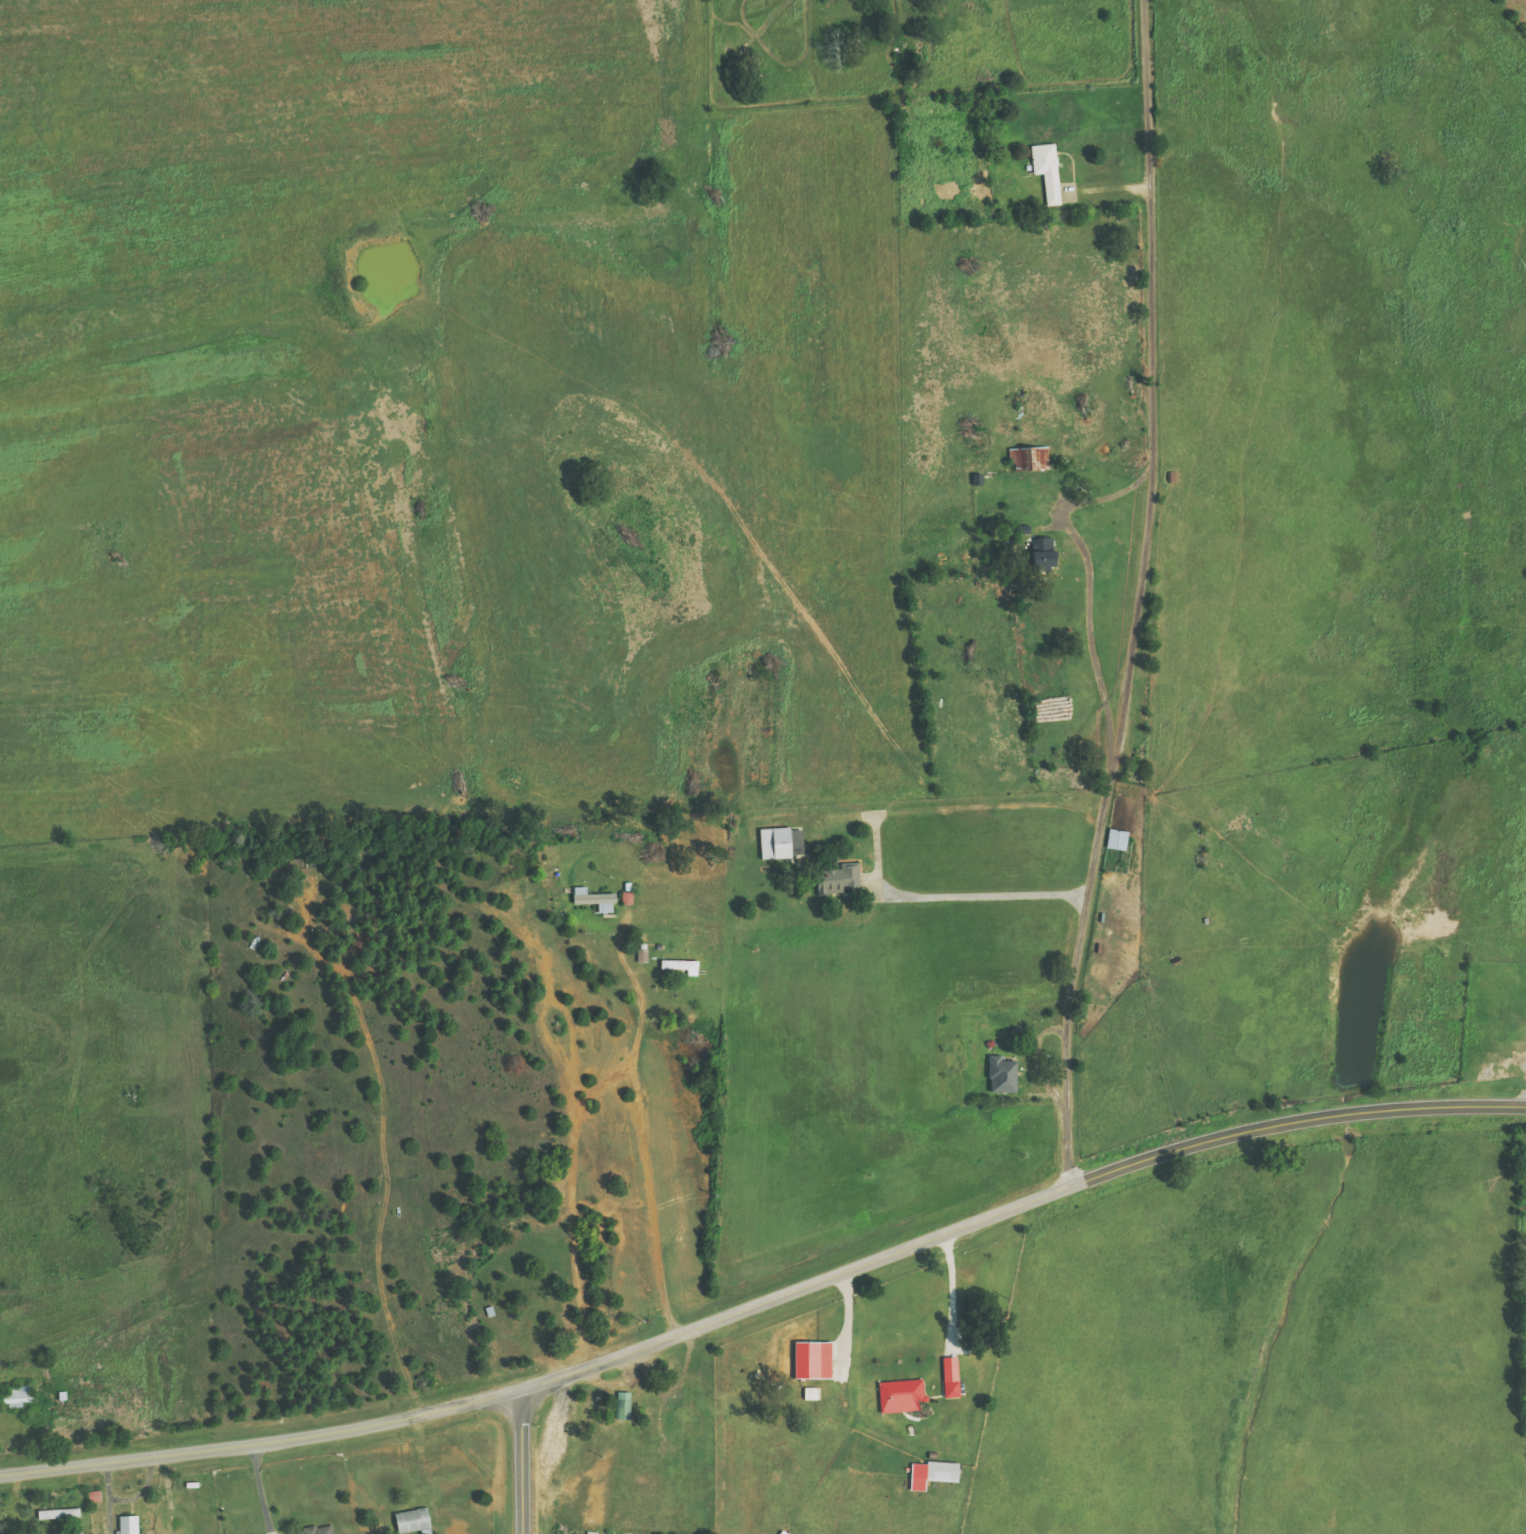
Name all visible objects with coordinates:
building: (1047, 170)
building: (1029, 458)
building: (1044, 552)
road: (1143, 596)
building: (1117, 825)
building: (781, 843)
building: (838, 879)
building: (595, 899)
building: (682, 966)
building: (1003, 1076)
road: (767, 1301)
building: (813, 1360)
building: (951, 1378)
building: (811, 1394)
building: (18, 1395)
building: (900, 1396)
building: (623, 1406)
road: (520, 1462)
building: (932, 1474)
building: (60, 1515)
building: (412, 1521)
building: (128, 1525)
building: (318, 1530)
building: (592, 1533)

